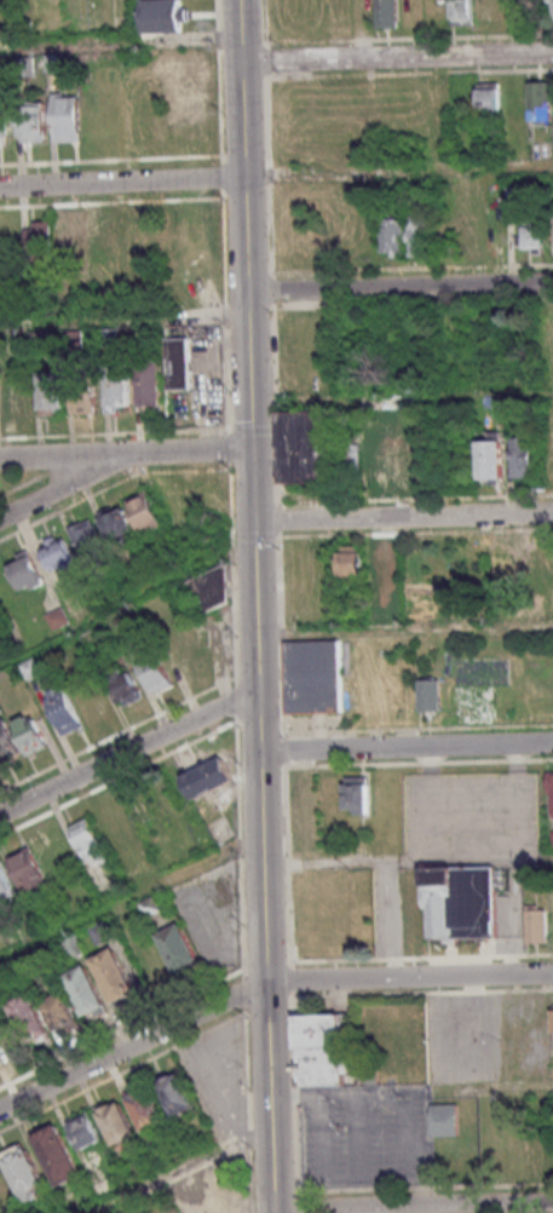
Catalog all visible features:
building: (549, 6)
building: (486, 11)
building: (462, 12)
building: (387, 13)
building: (157, 17)
road: (120, 39)
road: (451, 58)
road: (295, 63)
building: (489, 97)
building: (538, 100)
building: (4, 116)
building: (67, 116)
building: (34, 121)
road: (398, 173)
road: (121, 182)
building: (417, 235)
building: (71, 236)
building: (391, 236)
building: (532, 237)
building: (39, 240)
road: (399, 289)
road: (123, 320)
building: (179, 362)
building: (151, 384)
building: (120, 392)
building: (51, 393)
building: (86, 398)
building: (18, 399)
building: (306, 447)
road: (190, 452)
road: (65, 456)
building: (524, 456)
building: (491, 458)
road: (65, 485)
building: (146, 512)
road: (402, 517)
building: (120, 525)
building: (87, 534)
building: (58, 552)
building: (502, 556)
building: (351, 562)
building: (27, 571)
building: (212, 590)
road: (126, 604)
road: (254, 605)
road: (280, 606)
building: (156, 673)
building: (312, 679)
building: (127, 685)
building: (427, 696)
building: (97, 702)
building: (63, 709)
building: (30, 732)
building: (7, 743)
road: (405, 747)
road: (128, 751)
building: (209, 777)
building: (551, 793)
building: (358, 794)
parking lot: (471, 812)
building: (88, 841)
building: (29, 872)
building: (5, 883)
road: (131, 899)
building: (455, 903)
building: (151, 906)
parking lot: (211, 913)
building: (535, 926)
building: (179, 947)
building: (114, 976)
road: (408, 977)
building: (86, 993)
building: (63, 1013)
building: (30, 1018)
building: (552, 1019)
building: (318, 1029)
parking lot: (492, 1040)
building: (6, 1041)
road: (132, 1045)
building: (319, 1067)
parking lot: (219, 1079)
building: (177, 1092)
building: (146, 1108)
building: (445, 1119)
building: (117, 1122)
building: (85, 1131)
parking lot: (364, 1137)
building: (58, 1154)
road: (178, 1169)
building: (24, 1172)
building: (225, 1202)
road: (411, 1207)
building: (205, 1212)

